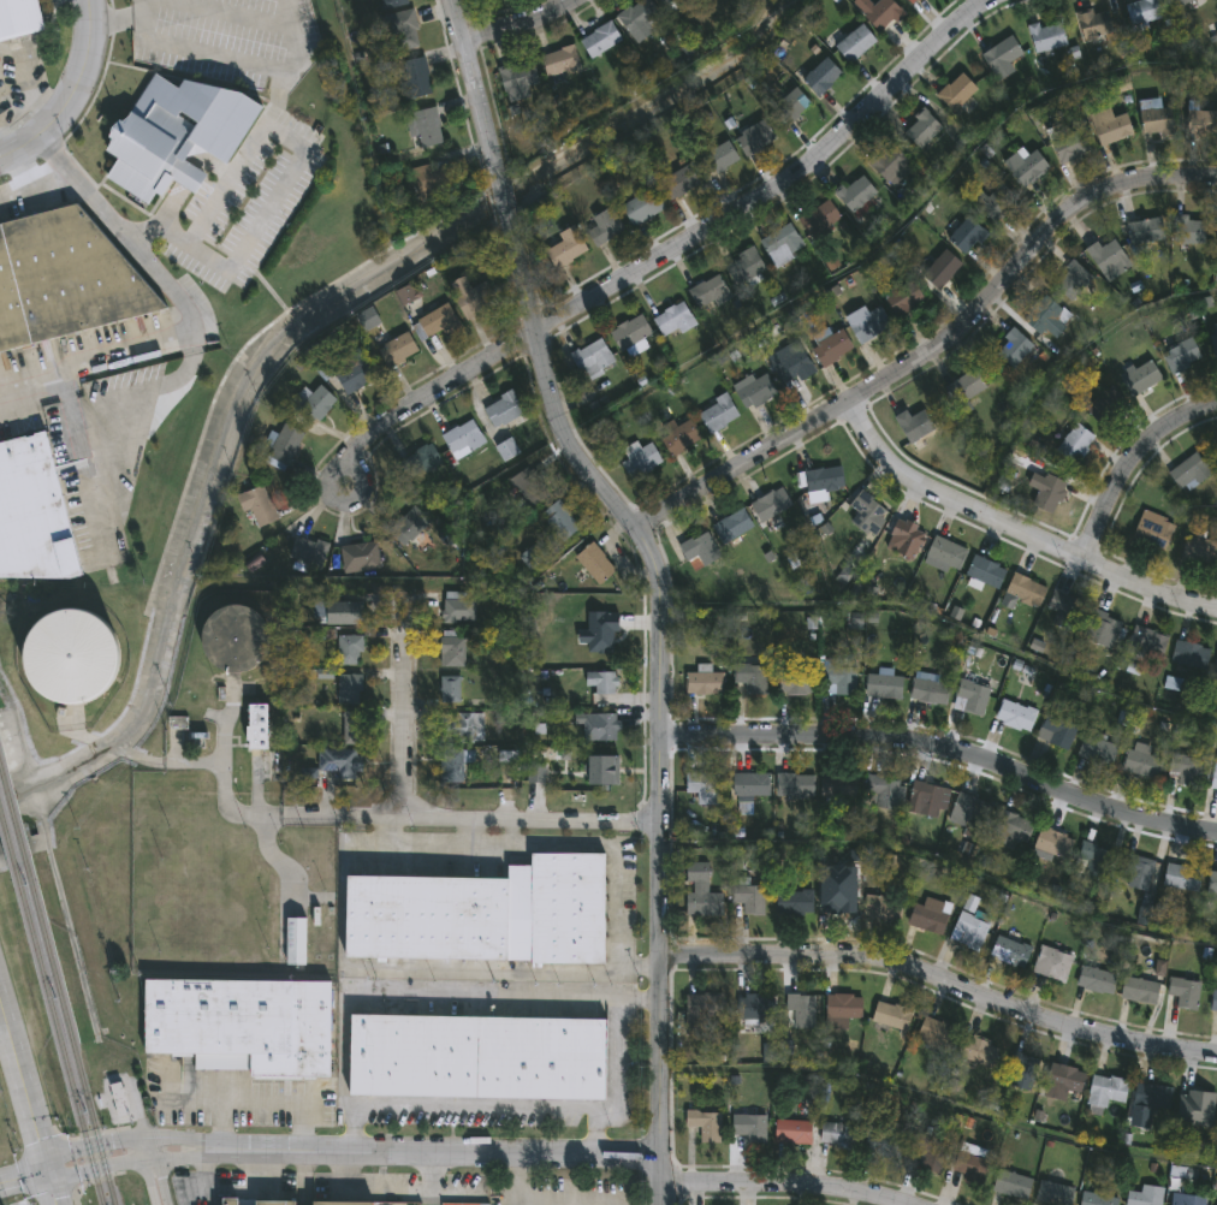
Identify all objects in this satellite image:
building: (913, 1)
building: (394, 2)
building: (667, 2)
building: (1182, 2)
road: (144, 8)
building: (1144, 11)
road: (232, 12)
building: (879, 13)
building: (637, 17)
building: (18, 18)
road: (457, 18)
road: (510, 19)
road: (115, 22)
building: (1094, 25)
building: (404, 30)
building: (1047, 37)
building: (600, 41)
building: (855, 44)
building: (1002, 57)
building: (560, 64)
road: (242, 65)
building: (821, 78)
building: (414, 79)
building: (517, 82)
road: (70, 91)
building: (956, 93)
building: (790, 108)
road: (479, 112)
building: (1157, 121)
building: (1201, 123)
building: (425, 129)
building: (1111, 129)
building: (921, 130)
building: (177, 133)
building: (755, 140)
building: (1070, 147)
parking lot: (278, 149)
building: (720, 158)
building: (889, 164)
road: (17, 168)
building: (1029, 168)
road: (53, 174)
road: (287, 182)
building: (434, 183)
building: (678, 184)
building: (856, 195)
building: (997, 204)
road: (501, 208)
building: (641, 208)
building: (819, 220)
building: (604, 227)
building: (1188, 232)
road: (891, 233)
building: (1145, 233)
building: (967, 237)
building: (782, 245)
building: (564, 250)
road: (666, 254)
building: (1108, 260)
building: (743, 268)
building: (940, 272)
building: (63, 277)
building: (1071, 283)
building: (405, 295)
building: (710, 295)
building: (470, 297)
building: (903, 299)
building: (1045, 317)
building: (672, 321)
road: (185, 323)
building: (437, 323)
building: (868, 326)
building: (630, 334)
road: (189, 342)
building: (1215, 344)
road: (933, 346)
building: (831, 349)
building: (397, 350)
building: (1013, 350)
building: (1181, 358)
building: (592, 360)
road: (1070, 363)
building: (792, 364)
building: (354, 374)
building: (1141, 380)
building: (964, 388)
building: (754, 392)
building: (315, 405)
building: (1104, 406)
road: (79, 408)
building: (503, 411)
building: (717, 414)
building: (914, 426)
building: (681, 438)
building: (462, 440)
building: (1075, 445)
building: (283, 447)
building: (506, 451)
road: (1133, 461)
building: (421, 463)
building: (640, 463)
building: (1189, 474)
building: (824, 481)
building: (529, 488)
building: (1050, 495)
building: (771, 505)
building: (257, 506)
building: (865, 514)
building: (32, 515)
road: (477, 520)
building: (559, 522)
road: (1020, 524)
building: (408, 527)
building: (731, 527)
building: (1152, 532)
building: (907, 539)
road: (1181, 539)
building: (700, 552)
building: (1199, 552)
building: (944, 556)
building: (360, 557)
building: (594, 564)
building: (985, 574)
building: (1025, 592)
building: (458, 610)
building: (1062, 610)
building: (342, 613)
road: (943, 625)
building: (1102, 630)
building: (233, 637)
storage tank: (233, 637)
building: (1146, 643)
building: (596, 648)
building: (349, 651)
building: (452, 651)
building: (71, 654)
storage tank: (71, 654)
building: (1189, 657)
building: (1216, 665)
building: (839, 678)
building: (755, 681)
building: (601, 682)
building: (795, 683)
building: (704, 684)
building: (883, 687)
building: (449, 689)
building: (349, 690)
building: (927, 693)
building: (972, 694)
road: (659, 696)
road: (408, 701)
building: (1014, 716)
building: (178, 723)
building: (257, 725)
building: (351, 729)
building: (458, 729)
building: (599, 729)
building: (1056, 731)
road: (944, 743)
building: (1097, 750)
building: (338, 761)
building: (1139, 761)
building: (450, 766)
building: (1186, 771)
building: (1215, 776)
building: (794, 785)
building: (833, 785)
building: (750, 786)
building: (702, 788)
building: (883, 791)
building: (926, 800)
railway: (12, 807)
building: (969, 813)
road: (455, 818)
railway: (7, 838)
building: (1053, 843)
road: (943, 857)
building: (1094, 859)
building: (1136, 871)
building: (1181, 878)
building: (1212, 883)
building: (700, 891)
building: (748, 898)
building: (842, 901)
building: (794, 902)
building: (883, 907)
building: (482, 913)
building: (927, 915)
road: (617, 926)
building: (968, 931)
building: (295, 942)
building: (1008, 951)
building: (1052, 964)
road: (940, 979)
building: (1096, 980)
road: (624, 983)
building: (1139, 990)
building: (1183, 992)
building: (1213, 1003)
building: (756, 1008)
building: (701, 1011)
building: (801, 1011)
building: (839, 1013)
building: (891, 1016)
building: (239, 1026)
railway: (69, 1031)
building: (934, 1033)
railway: (58, 1035)
road: (617, 1043)
building: (978, 1051)
building: (476, 1056)
building: (1021, 1073)
building: (1064, 1078)
building: (1105, 1091)
building: (1150, 1102)
road: (179, 1103)
road: (261, 1103)
road: (30, 1104)
parking lot: (351, 1104)
road: (938, 1104)
building: (115, 1105)
road: (451, 1106)
building: (1198, 1109)
building: (705, 1124)
building: (749, 1128)
road: (596, 1132)
building: (792, 1133)
building: (837, 1135)
building: (883, 1141)
road: (327, 1151)
building: (928, 1151)
building: (969, 1162)
traffic signals: (51, 1170)
road: (150, 1177)
road: (516, 1179)
road: (786, 1183)
building: (1013, 1185)
building: (1053, 1193)
building: (1096, 1199)
building: (1142, 1199)
building: (1187, 1199)
road: (75, 1201)
building: (227, 1203)
building: (274, 1203)
building: (339, 1203)
building: (1215, 1204)

